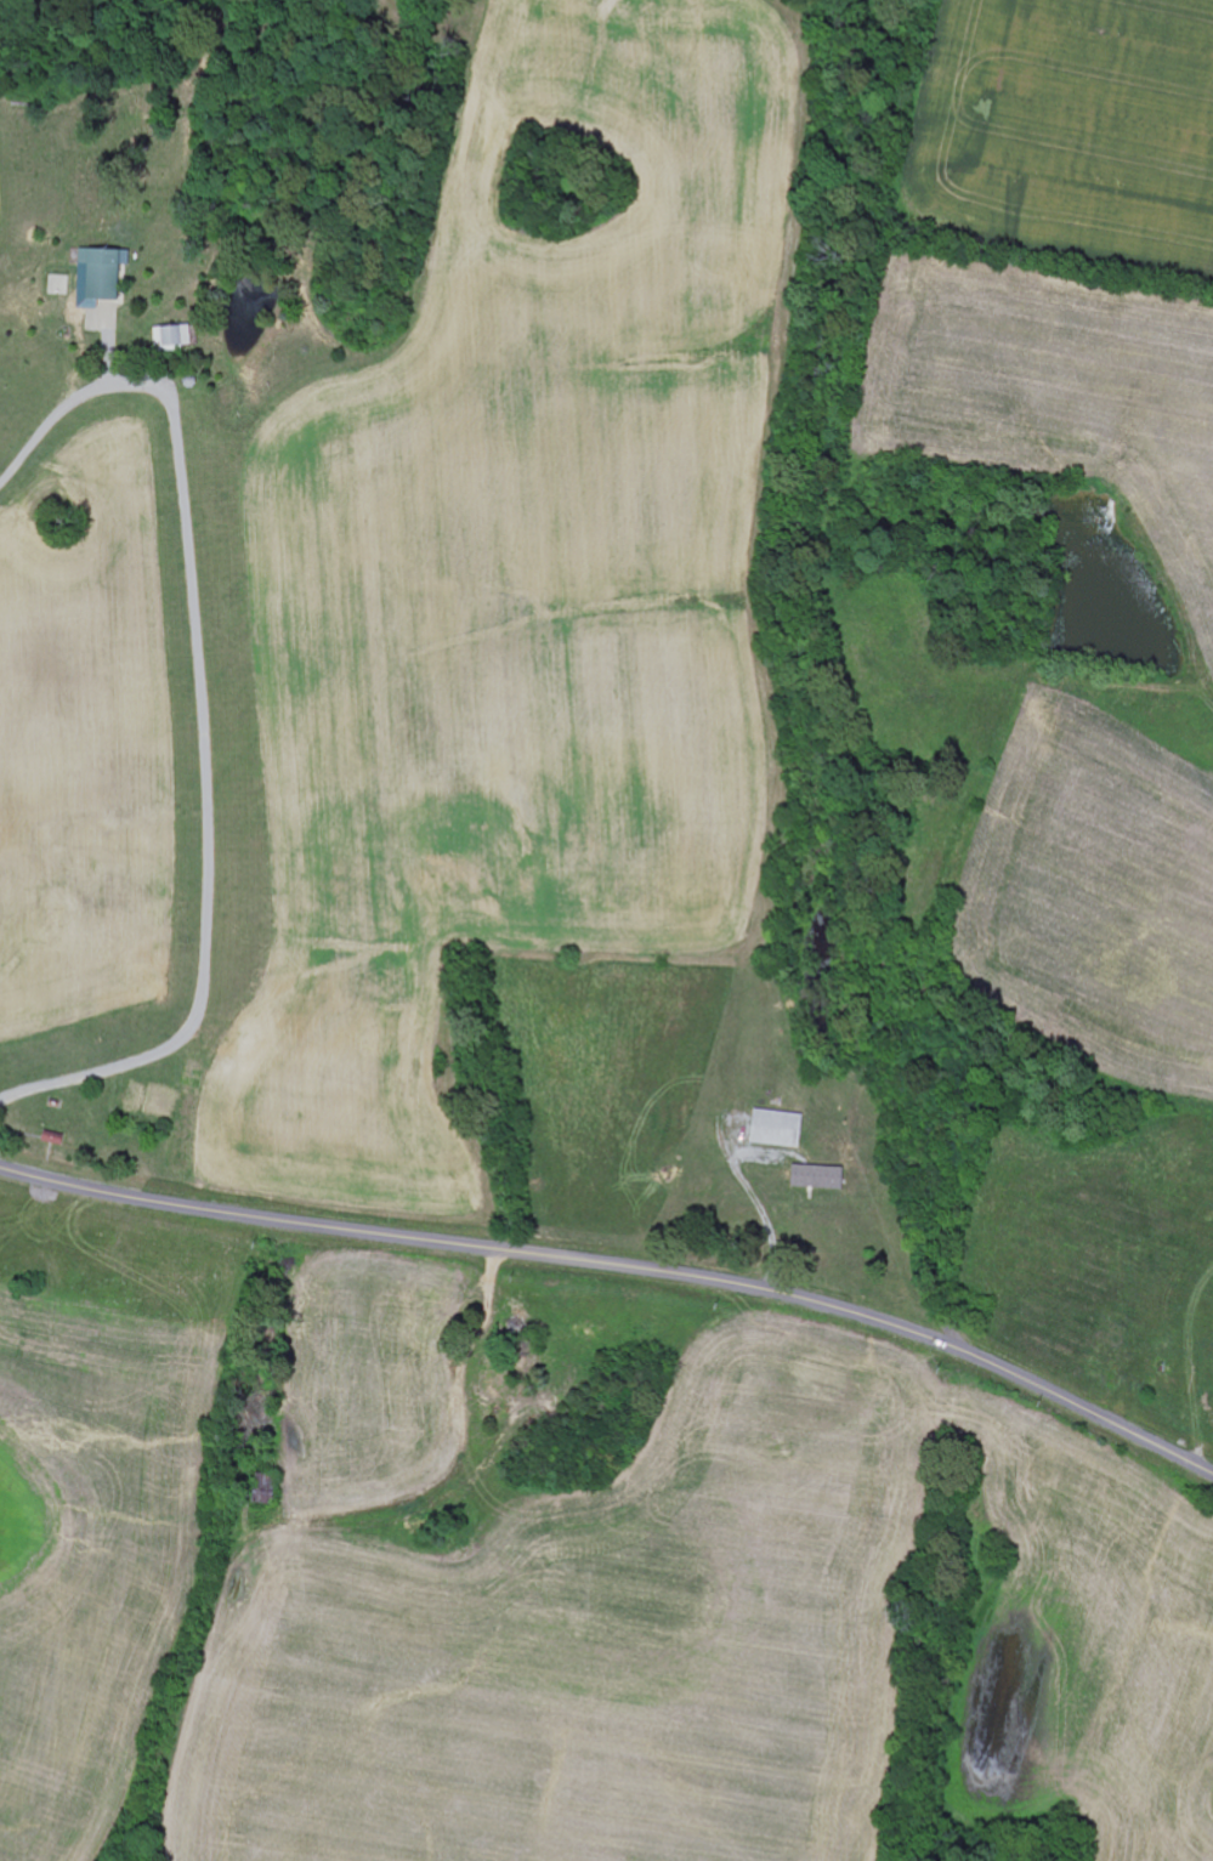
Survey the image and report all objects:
building: (108, 272)
building: (102, 319)
building: (177, 336)
road: (204, 708)
building: (773, 1128)
building: (817, 1176)
road: (622, 1265)

